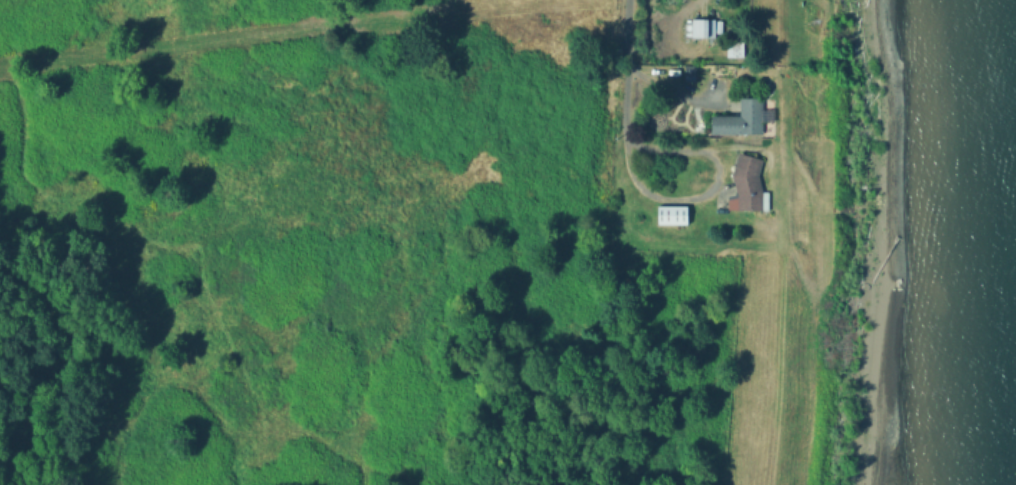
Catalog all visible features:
building: (706, 28)
building: (735, 52)
road: (626, 68)
road: (657, 70)
building: (692, 73)
road: (666, 88)
building: (742, 121)
road: (708, 187)
building: (749, 187)
building: (674, 215)

